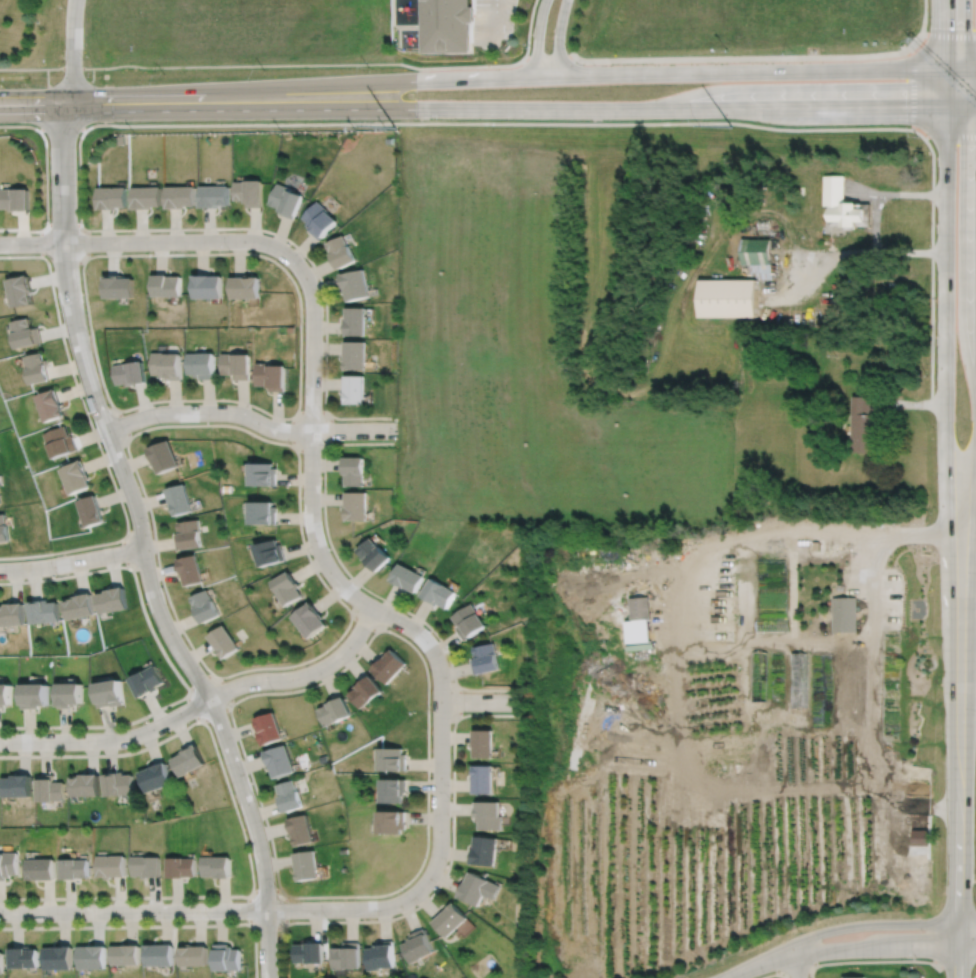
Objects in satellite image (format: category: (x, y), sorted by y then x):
parking lot: (493, 22)
road: (494, 22)
building: (448, 26)
road: (529, 29)
road: (962, 35)
road: (540, 37)
road: (559, 37)
road: (73, 49)
road: (948, 51)
road: (765, 57)
road: (550, 58)
road: (287, 64)
road: (24, 68)
traffic signals: (948, 69)
road: (524, 76)
road: (36, 99)
traffic signals: (948, 103)
road: (524, 106)
road: (360, 123)
road: (62, 128)
street lamp: (79, 135)
road: (46, 181)
road: (868, 190)
building: (249, 193)
road: (913, 195)
building: (147, 198)
building: (182, 198)
building: (215, 198)
building: (113, 199)
building: (15, 200)
building: (285, 200)
building: (846, 204)
building: (319, 218)
street lamp: (49, 221)
road: (876, 224)
road: (64, 226)
street lamp: (132, 232)
road: (155, 241)
road: (40, 243)
road: (87, 244)
street lamp: (228, 250)
building: (340, 250)
building: (756, 250)
road: (808, 253)
road: (911, 253)
road: (854, 254)
street lamp: (305, 259)
road: (65, 261)
building: (354, 282)
building: (166, 283)
building: (206, 284)
building: (119, 285)
building: (244, 285)
building: (20, 289)
road: (944, 289)
road: (809, 291)
building: (728, 298)
building: (355, 319)
street lamp: (303, 325)
building: (25, 332)
street lamp: (88, 334)
building: (354, 353)
building: (201, 363)
building: (167, 364)
building: (235, 364)
building: (37, 367)
building: (132, 371)
building: (270, 375)
building: (353, 388)
building: (50, 404)
road: (911, 404)
street lamp: (253, 408)
road: (312, 411)
road: (295, 413)
road: (250, 417)
street lamp: (392, 421)
road: (122, 423)
street lamp: (159, 423)
building: (863, 423)
road: (293, 430)
road: (330, 430)
road: (95, 437)
building: (60, 441)
street lamp: (324, 443)
street lamp: (103, 447)
road: (311, 449)
building: (164, 455)
road: (969, 457)
building: (354, 470)
building: (262, 473)
building: (76, 476)
building: (0, 498)
building: (177, 498)
building: (356, 505)
building: (91, 510)
building: (262, 512)
street lamp: (150, 524)
building: (4, 528)
building: (188, 534)
road: (143, 545)
road: (880, 551)
road: (126, 552)
building: (269, 552)
building: (373, 553)
street lamp: (310, 555)
road: (72, 561)
building: (190, 569)
street lamp: (56, 574)
building: (407, 577)
road: (358, 583)
building: (286, 587)
road: (349, 592)
building: (438, 592)
building: (112, 600)
building: (79, 606)
building: (204, 606)
building: (640, 608)
building: (44, 611)
street lamp: (150, 611)
building: (11, 614)
building: (845, 614)
street lamp: (409, 616)
building: (309, 620)
road: (365, 620)
building: (469, 621)
building: (772, 624)
building: (637, 630)
building: (826, 638)
street lamp: (340, 641)
building: (223, 642)
road: (333, 643)
road: (775, 643)
building: (485, 658)
road: (169, 661)
building: (389, 666)
street lamp: (205, 672)
building: (759, 676)
building: (799, 680)
building: (148, 682)
road: (201, 682)
road: (225, 689)
street lamp: (272, 689)
building: (822, 690)
building: (365, 691)
street lamp: (521, 692)
building: (111, 694)
building: (71, 695)
building: (6, 696)
building: (35, 696)
road: (483, 701)
road: (457, 702)
road: (200, 703)
road: (193, 707)
road: (960, 708)
building: (334, 711)
street lamp: (431, 712)
road: (216, 713)
street lamp: (149, 720)
road: (681, 724)
building: (268, 728)
street lamp: (54, 731)
building: (483, 743)
building: (188, 760)
building: (279, 760)
building: (393, 760)
building: (745, 773)
building: (156, 778)
building: (483, 779)
building: (120, 785)
building: (85, 786)
building: (17, 787)
building: (49, 789)
street lamp: (233, 791)
building: (394, 791)
building: (289, 796)
street lamp: (449, 798)
building: (488, 814)
building: (392, 822)
road: (241, 824)
road: (427, 825)
building: (300, 830)
building: (920, 837)
building: (485, 849)
building: (9, 863)
building: (307, 863)
building: (113, 864)
building: (148, 864)
building: (182, 865)
building: (217, 865)
building: (76, 866)
building: (42, 867)
road: (442, 878)
street lamp: (275, 885)
building: (478, 887)
road: (265, 889)
street lamp: (403, 889)
street lamp: (94, 901)
road: (248, 908)
road: (218, 909)
road: (286, 909)
street lamp: (327, 918)
building: (451, 918)
street lamp: (210, 920)
street lamp: (5, 922)
road: (880, 922)
road: (152, 925)
road: (267, 926)
building: (418, 945)
road: (884, 947)
building: (310, 951)
building: (126, 953)
building: (160, 953)
building: (192, 954)
building: (346, 954)
building: (381, 954)
building: (92, 955)
building: (23, 956)
building: (58, 956)
building: (226, 956)
road: (860, 960)
building: (1, 961)
road: (956, 961)
road: (957, 962)
road: (758, 963)
road: (796, 964)
road: (774, 972)
road: (810, 972)
road: (974, 975)
building: (855, 976)

